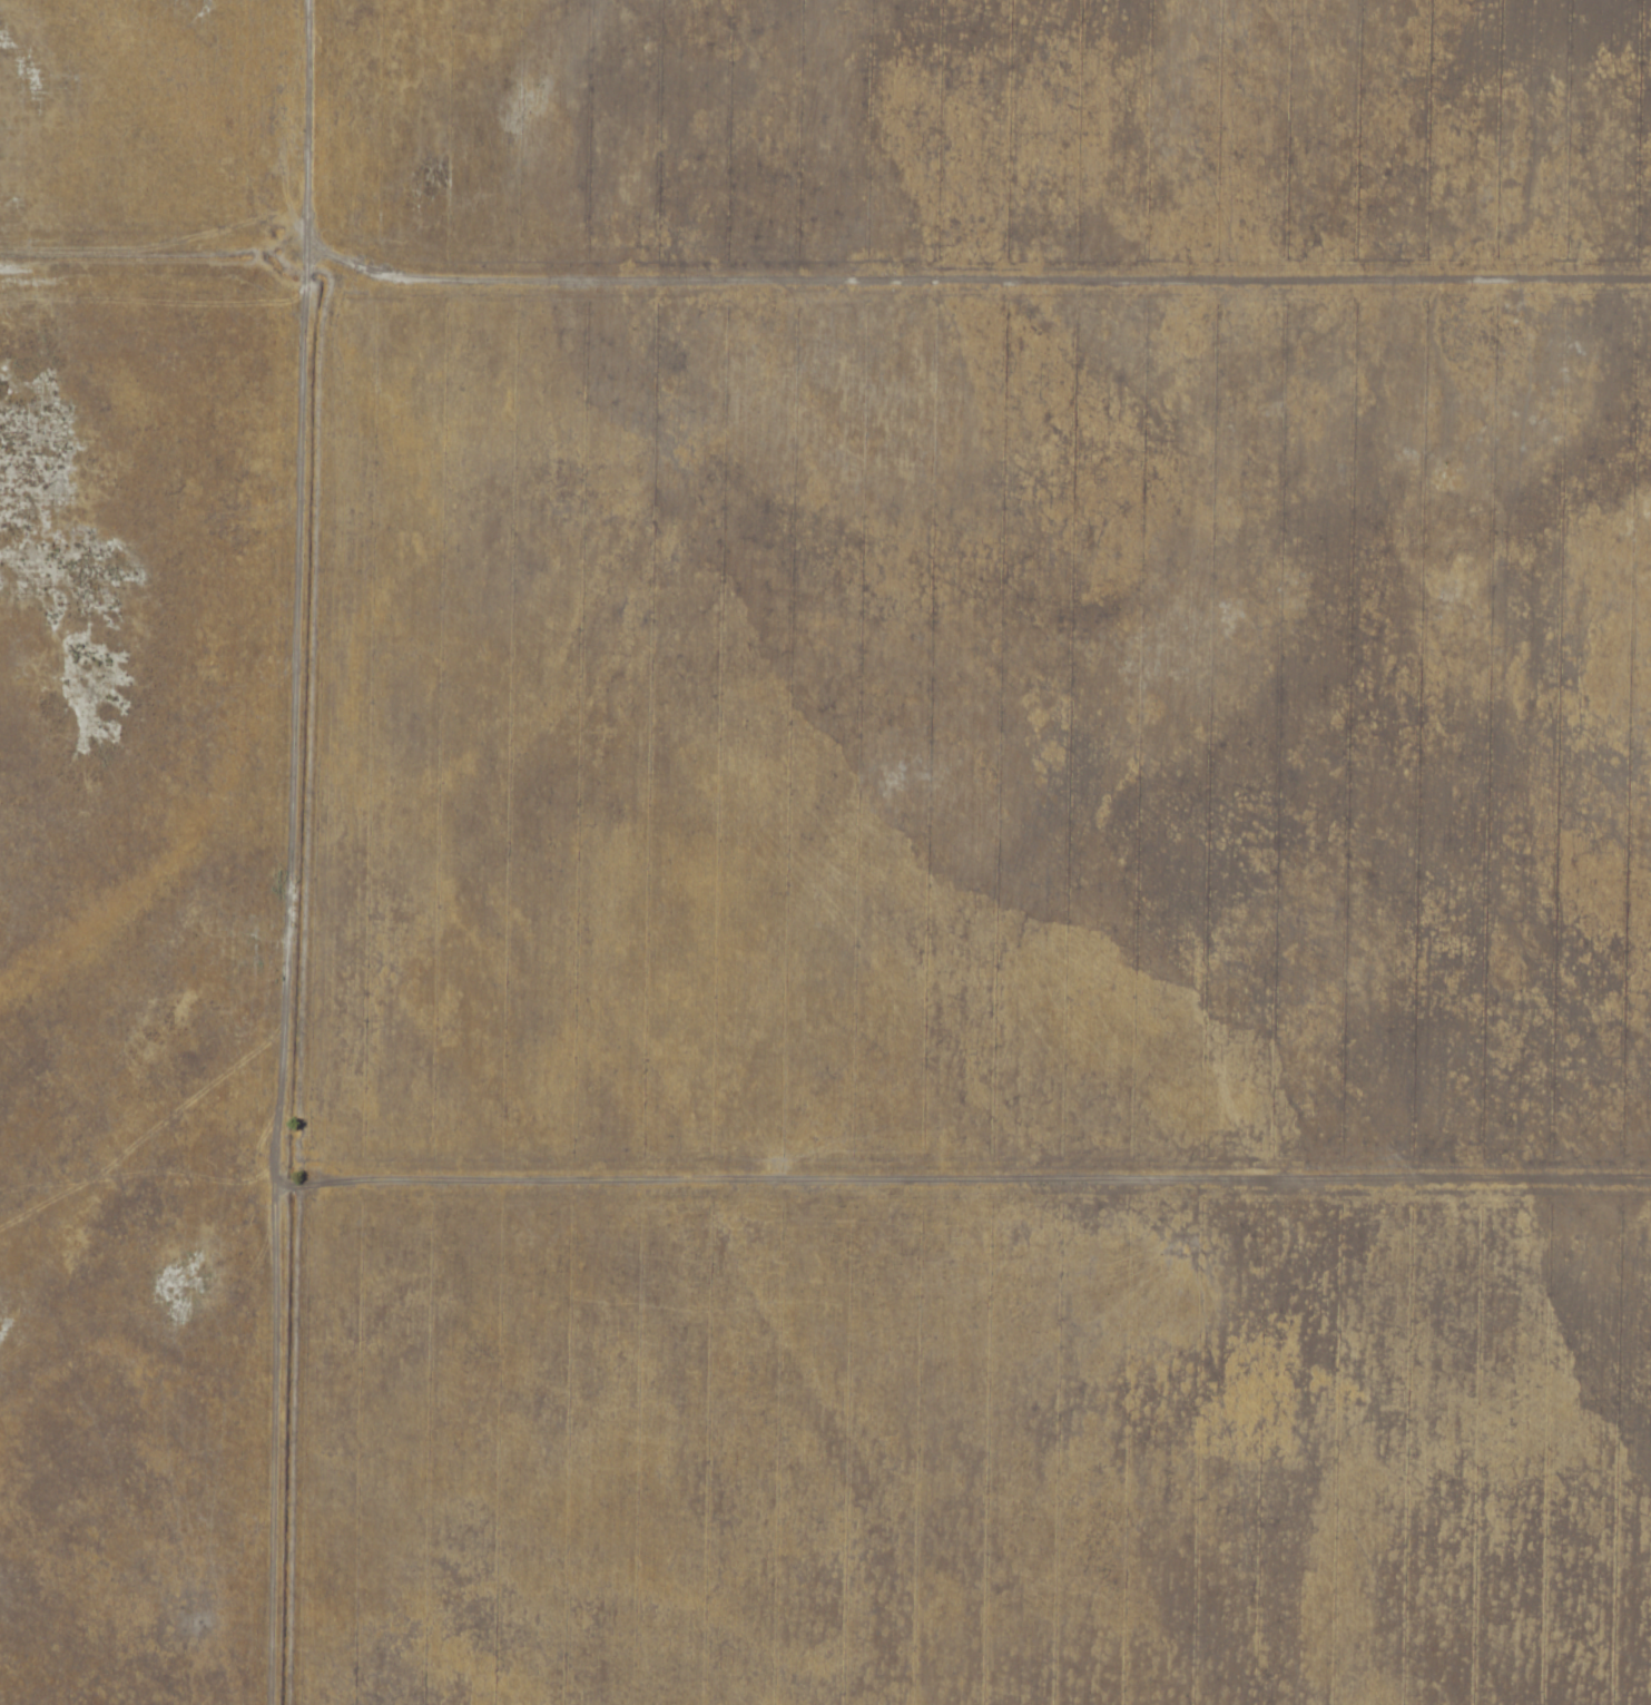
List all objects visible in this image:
road: (308, 342)
crop: (969, 855)
road: (982, 1216)

